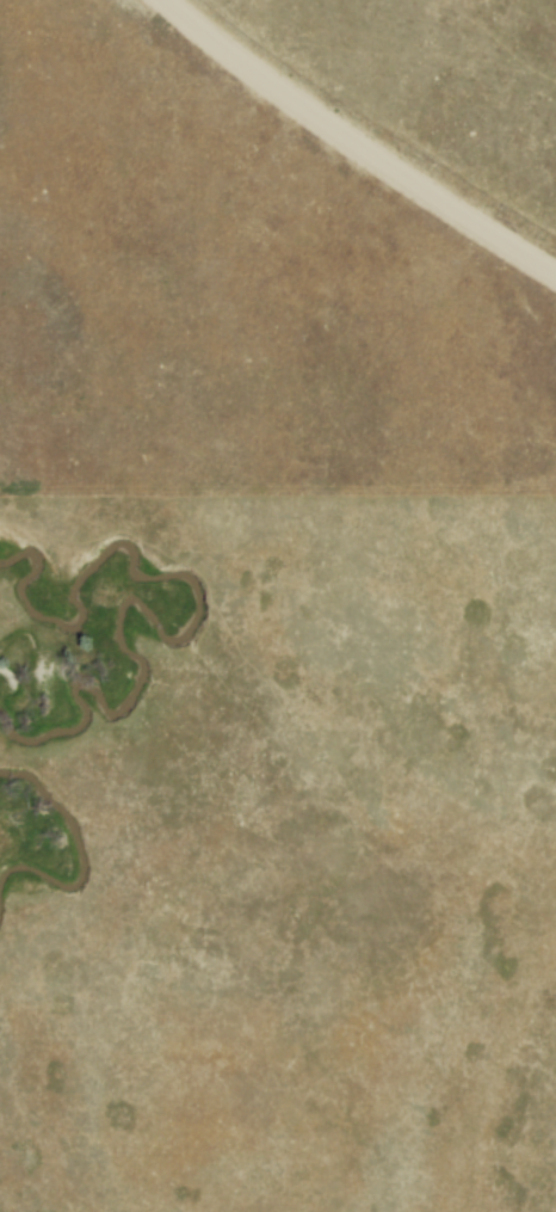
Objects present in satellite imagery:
road: (344, 153)

